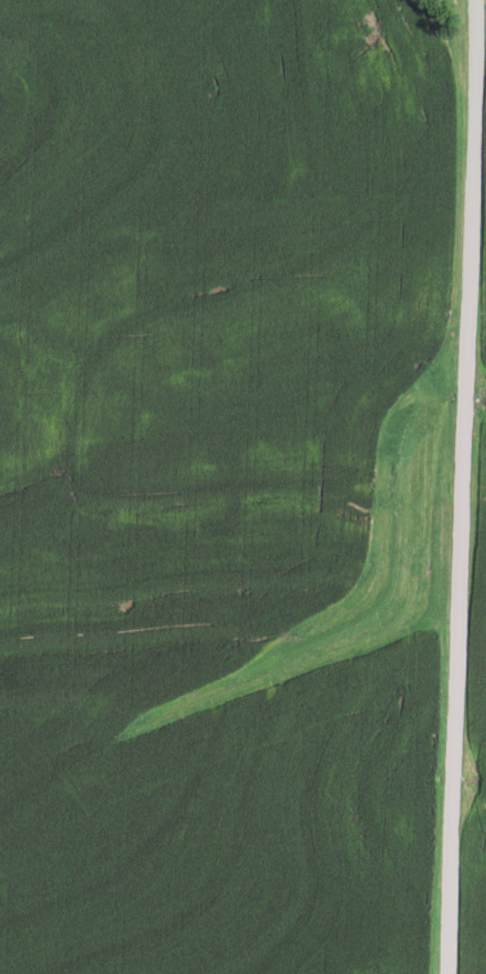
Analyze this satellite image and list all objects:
road: (462, 487)

